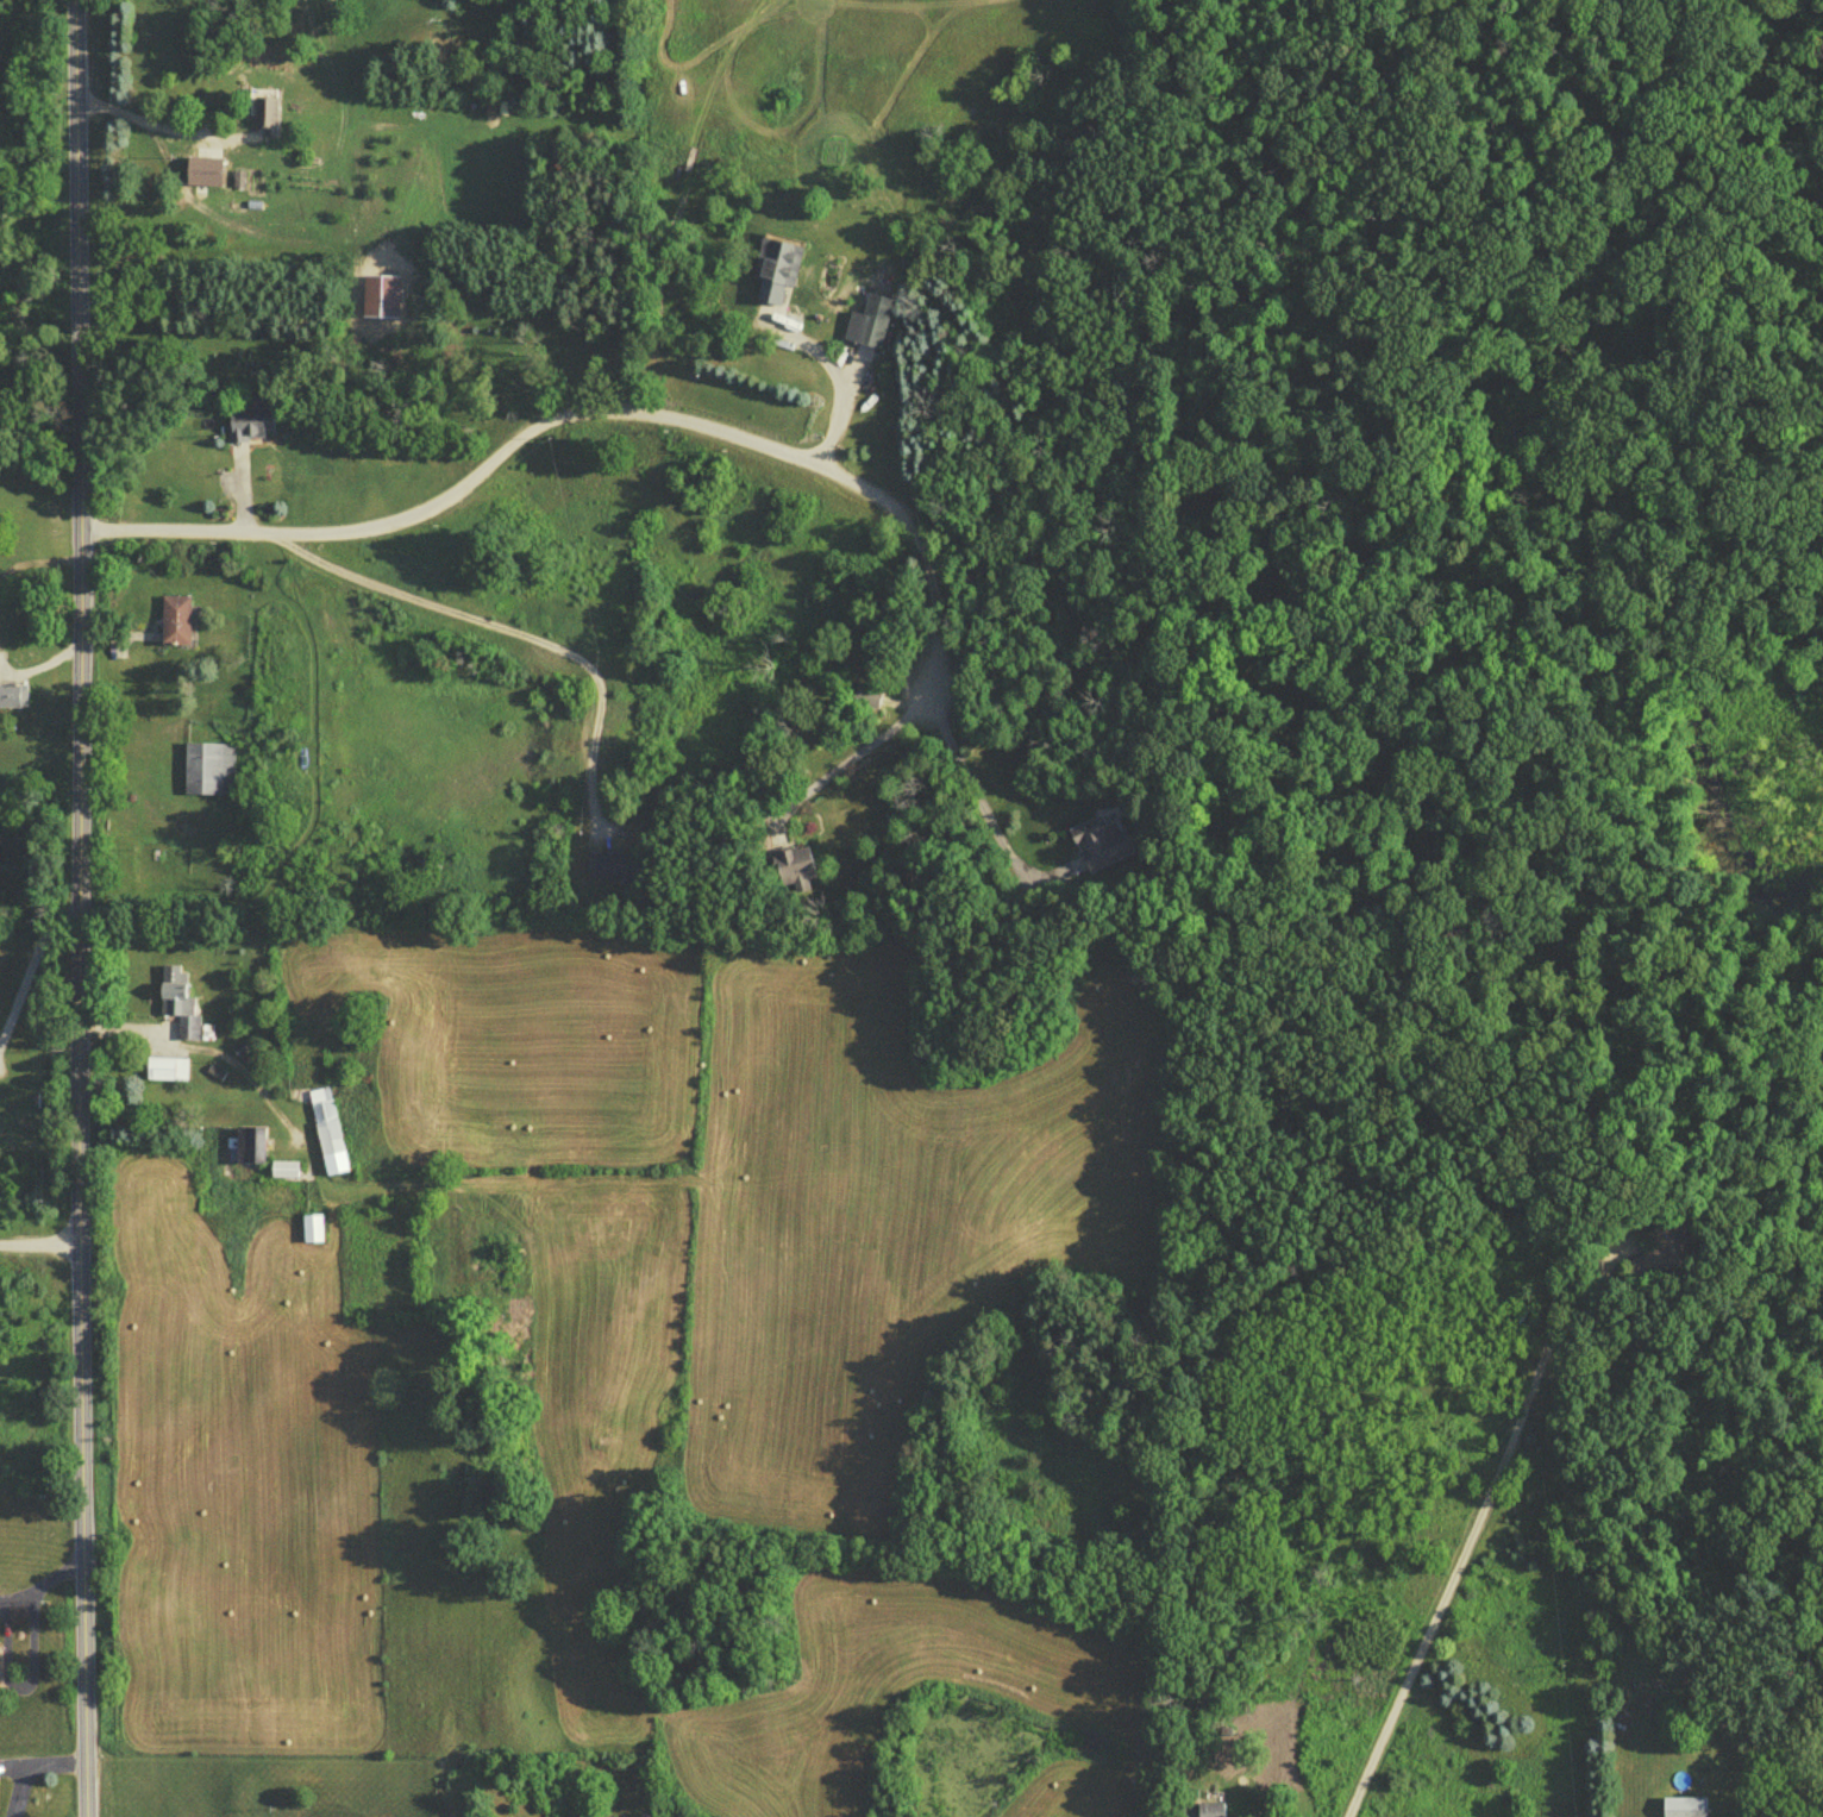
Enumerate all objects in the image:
building: (263, 112)
road: (139, 120)
building: (205, 176)
building: (776, 272)
building: (870, 327)
road: (840, 381)
road: (584, 405)
building: (249, 428)
building: (174, 626)
road: (503, 627)
building: (13, 700)
building: (866, 701)
road: (853, 762)
building: (201, 775)
road: (979, 801)
building: (1101, 848)
building: (610, 871)
building: (793, 872)
road: (86, 908)
road: (32, 957)
building: (177, 1007)
building: (167, 1073)
building: (325, 1126)
building: (248, 1149)
building: (282, 1174)
building: (311, 1233)
road: (43, 1239)
building: (1645, 1270)
road: (1466, 1543)
road: (24, 1660)
building: (1684, 1810)
building: (1199, 1812)

